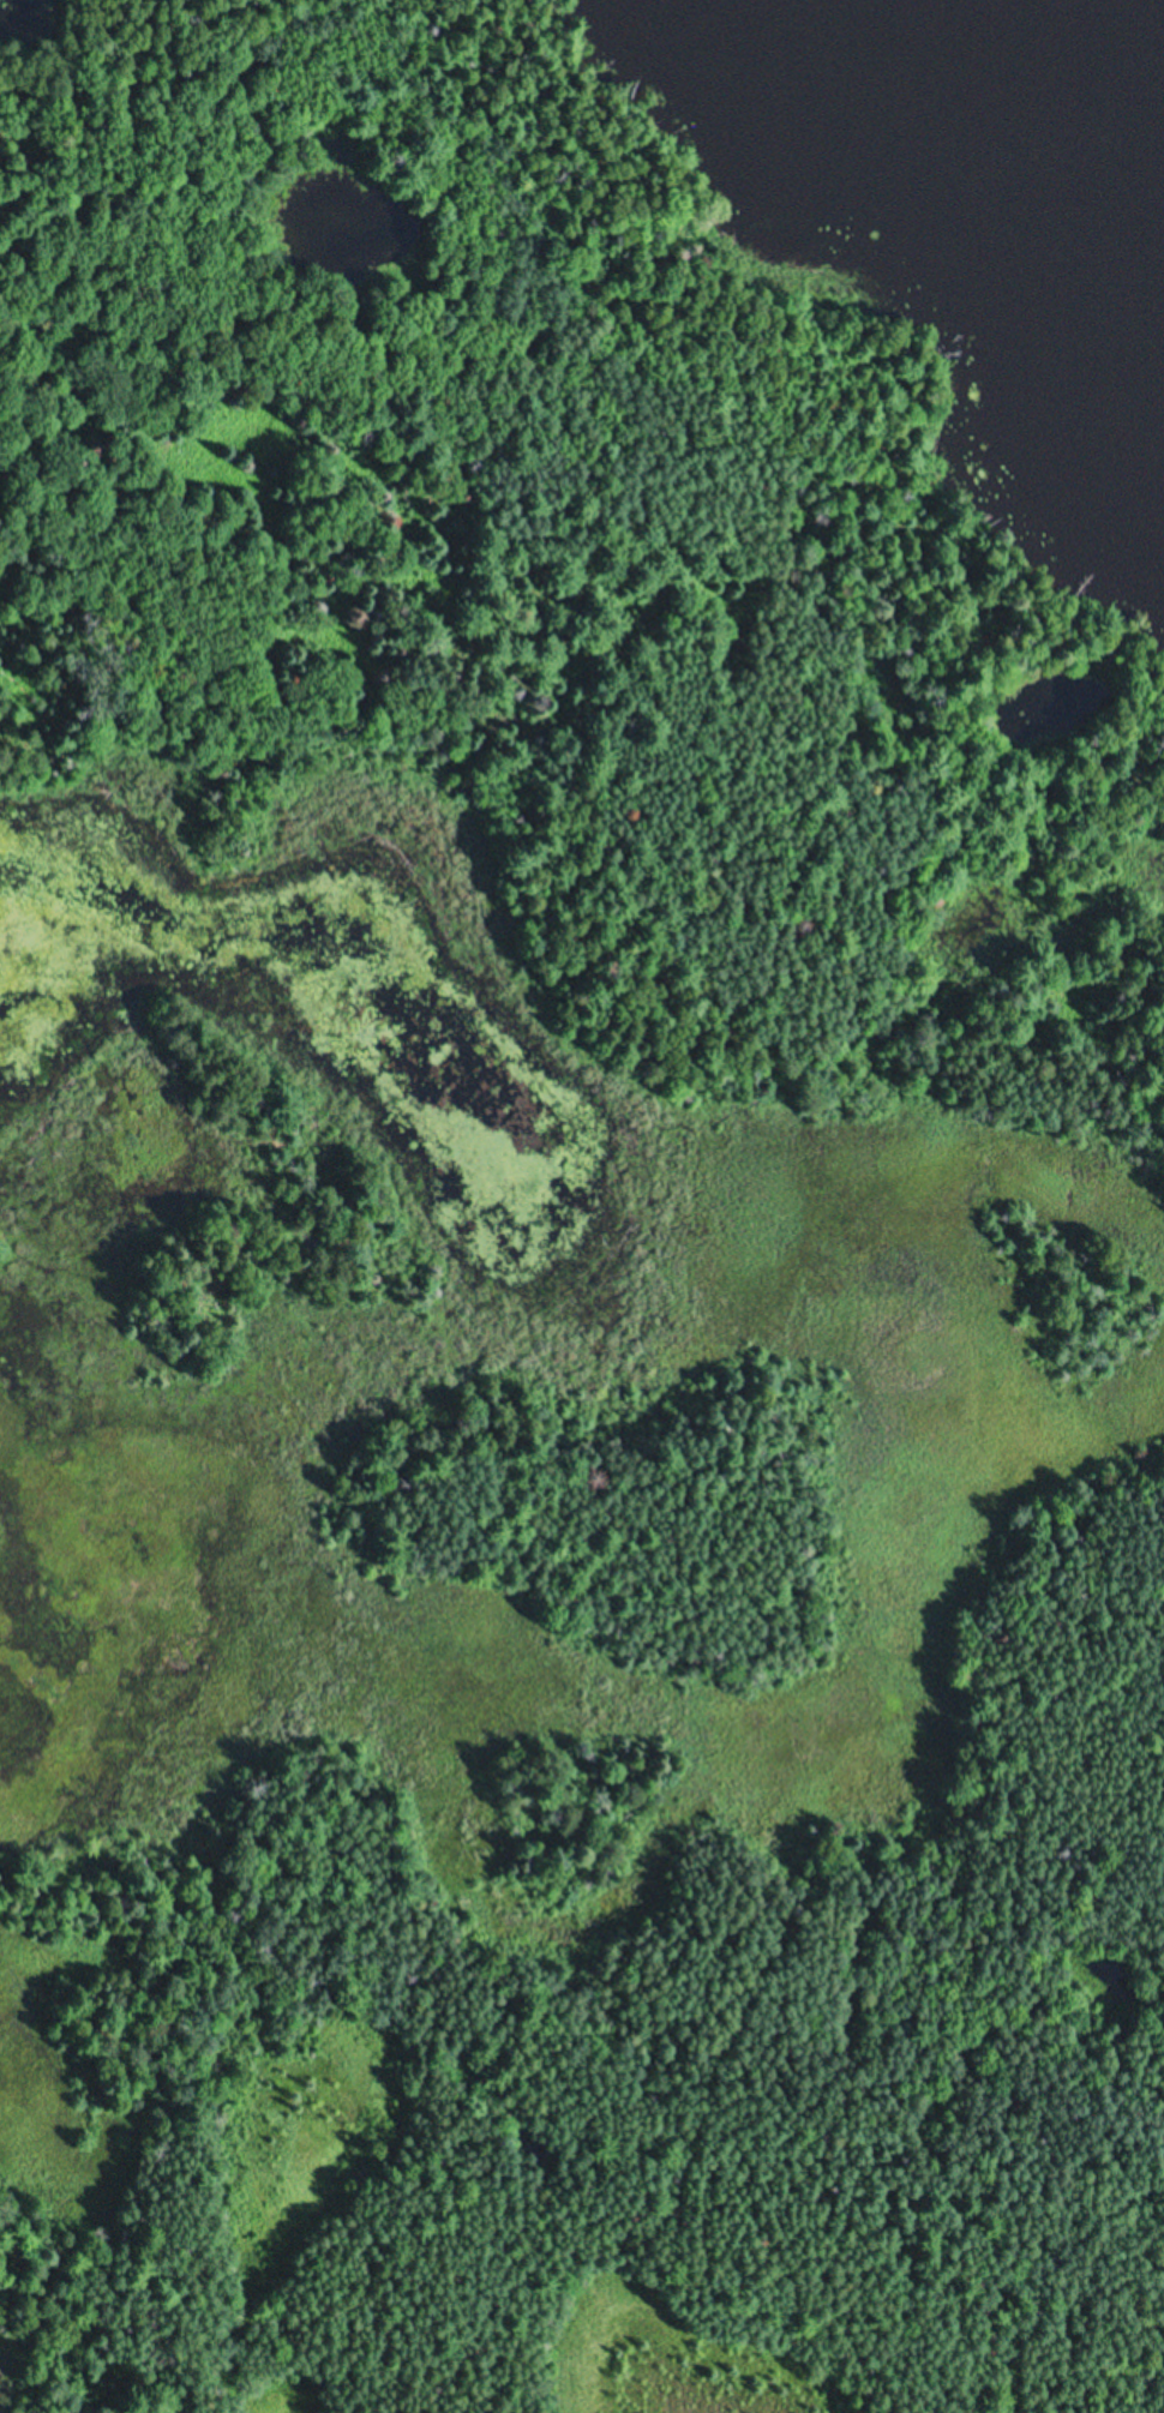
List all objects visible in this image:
river: (1118, 94)

